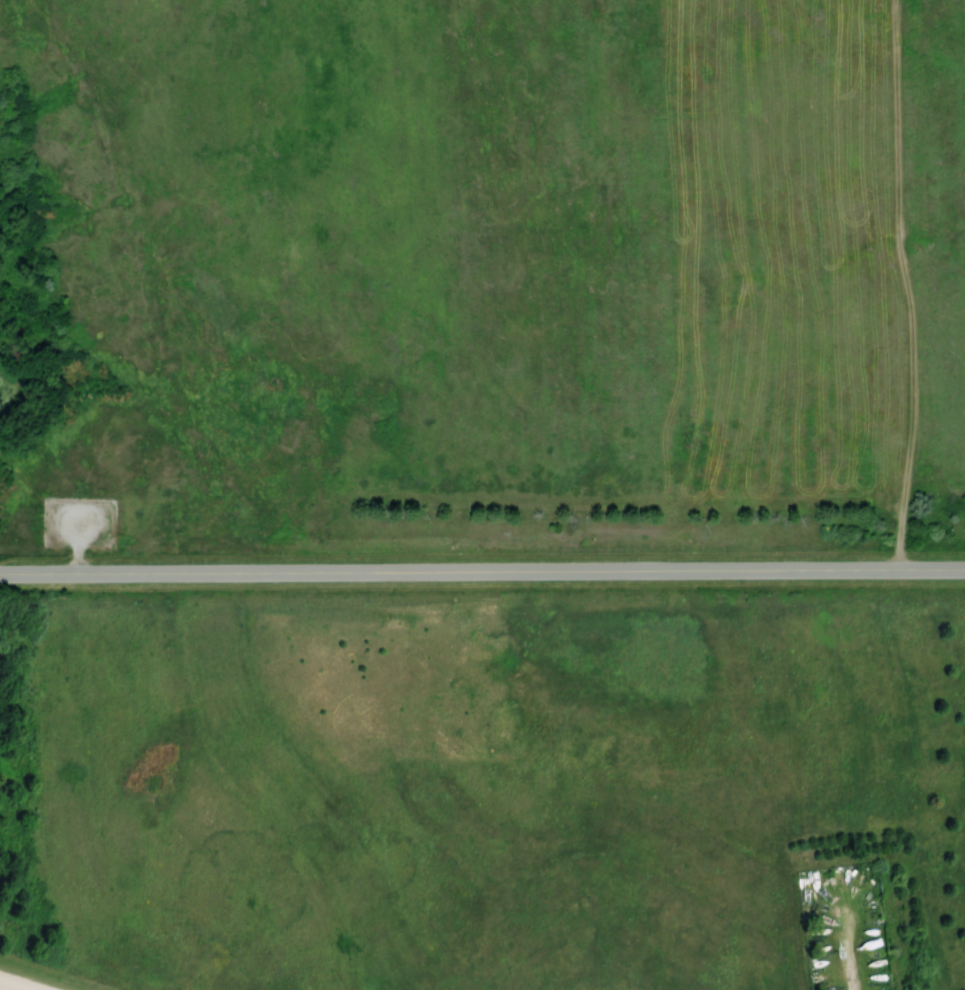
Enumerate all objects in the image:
road: (482, 571)
park: (483, 780)
road: (842, 943)
road: (16, 984)

